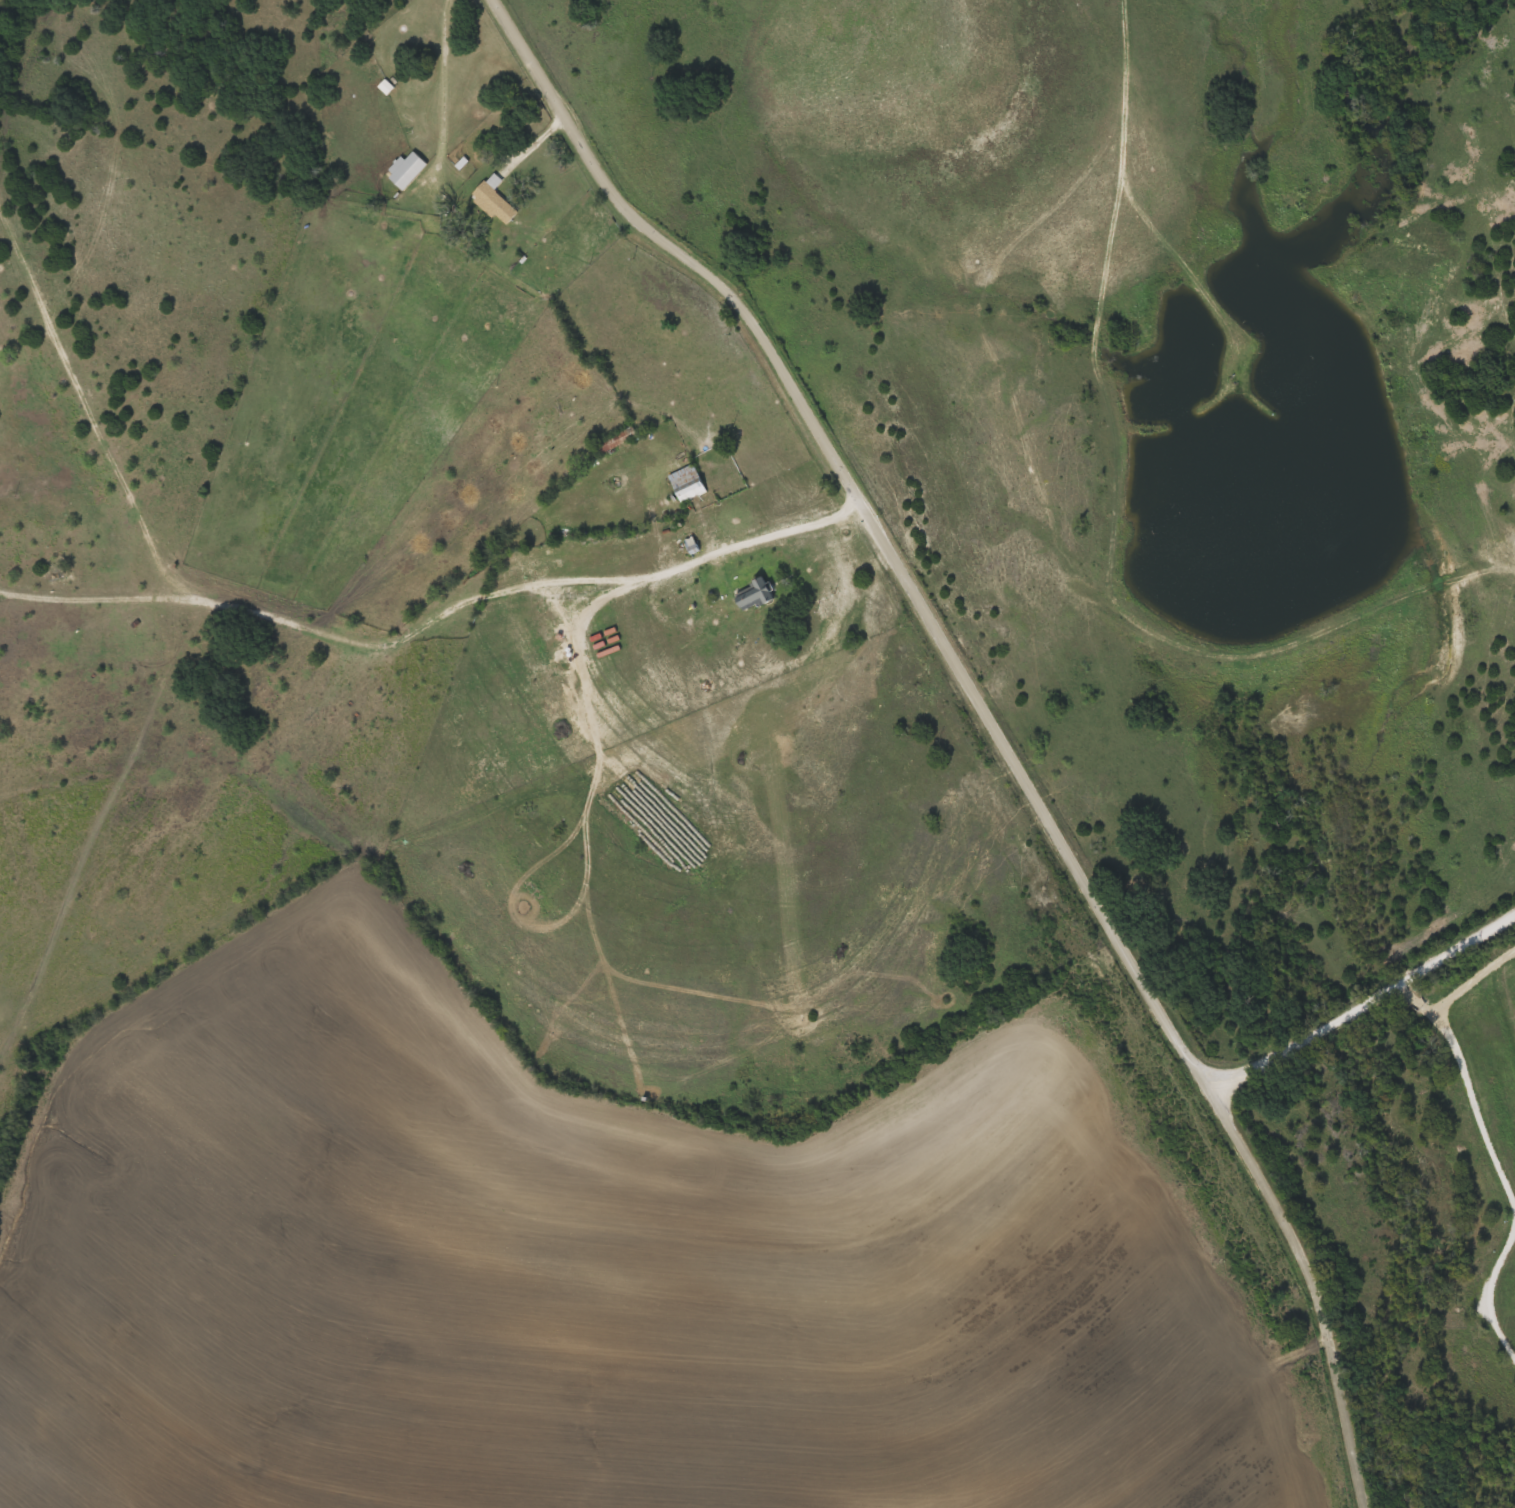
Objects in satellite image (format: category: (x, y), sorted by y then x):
road: (435, 119)
building: (407, 170)
building: (495, 201)
building: (617, 439)
building: (688, 483)
building: (757, 594)
road: (437, 616)
road: (993, 720)
road: (1367, 1013)

